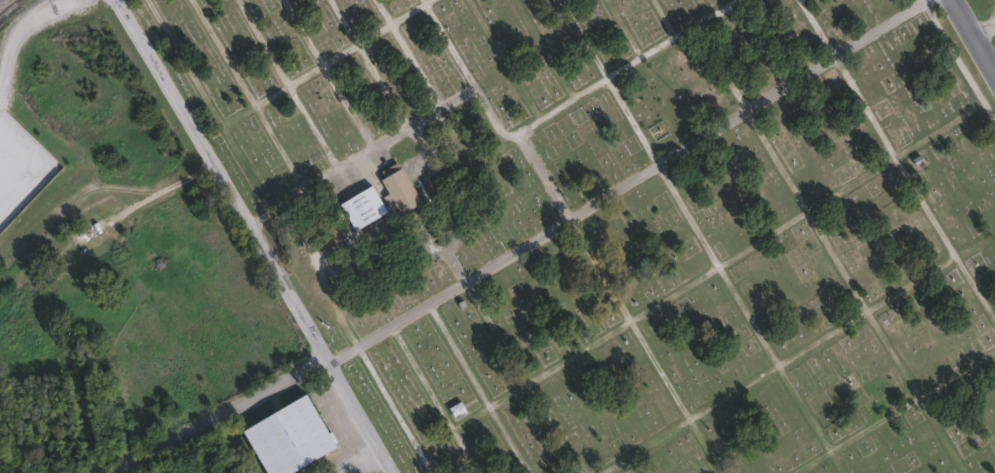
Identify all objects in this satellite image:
road: (920, 0)
road: (922, 0)
road: (422, 1)
road: (425, 1)
road: (702, 9)
road: (382, 12)
road: (663, 19)
road: (342, 22)
road: (623, 28)
road: (816, 28)
road: (981, 28)
road: (301, 32)
road: (20, 37)
road: (582, 39)
road: (971, 40)
road: (261, 42)
road: (447, 45)
road: (543, 48)
road: (222, 51)
road: (636, 58)
road: (503, 59)
road: (414, 65)
road: (719, 68)
road: (788, 83)
road: (379, 84)
road: (978, 96)
road: (260, 99)
road: (345, 105)
road: (864, 106)
road: (989, 112)
road: (420, 116)
road: (630, 120)
road: (310, 126)
road: (498, 127)
road: (277, 147)
road: (352, 157)
road: (775, 161)
road: (246, 165)
road: (317, 179)
building: (395, 186)
road: (611, 190)
road: (159, 191)
road: (286, 200)
building: (359, 206)
road: (924, 206)
road: (805, 212)
road: (685, 215)
road: (257, 216)
park: (621, 223)
road: (421, 224)
road: (251, 237)
road: (452, 243)
road: (496, 260)
road: (836, 262)
road: (457, 268)
road: (597, 269)
building: (303, 280)
road: (975, 288)
road: (885, 300)
road: (495, 332)
road: (457, 354)
road: (565, 359)
road: (658, 370)
road: (420, 376)
road: (738, 389)
road: (913, 392)
road: (384, 394)
road: (912, 401)
building: (455, 409)
road: (227, 412)
road: (809, 419)
road: (551, 428)
building: (284, 436)
road: (507, 439)
road: (704, 446)
road: (464, 450)
road: (420, 458)
road: (812, 462)

